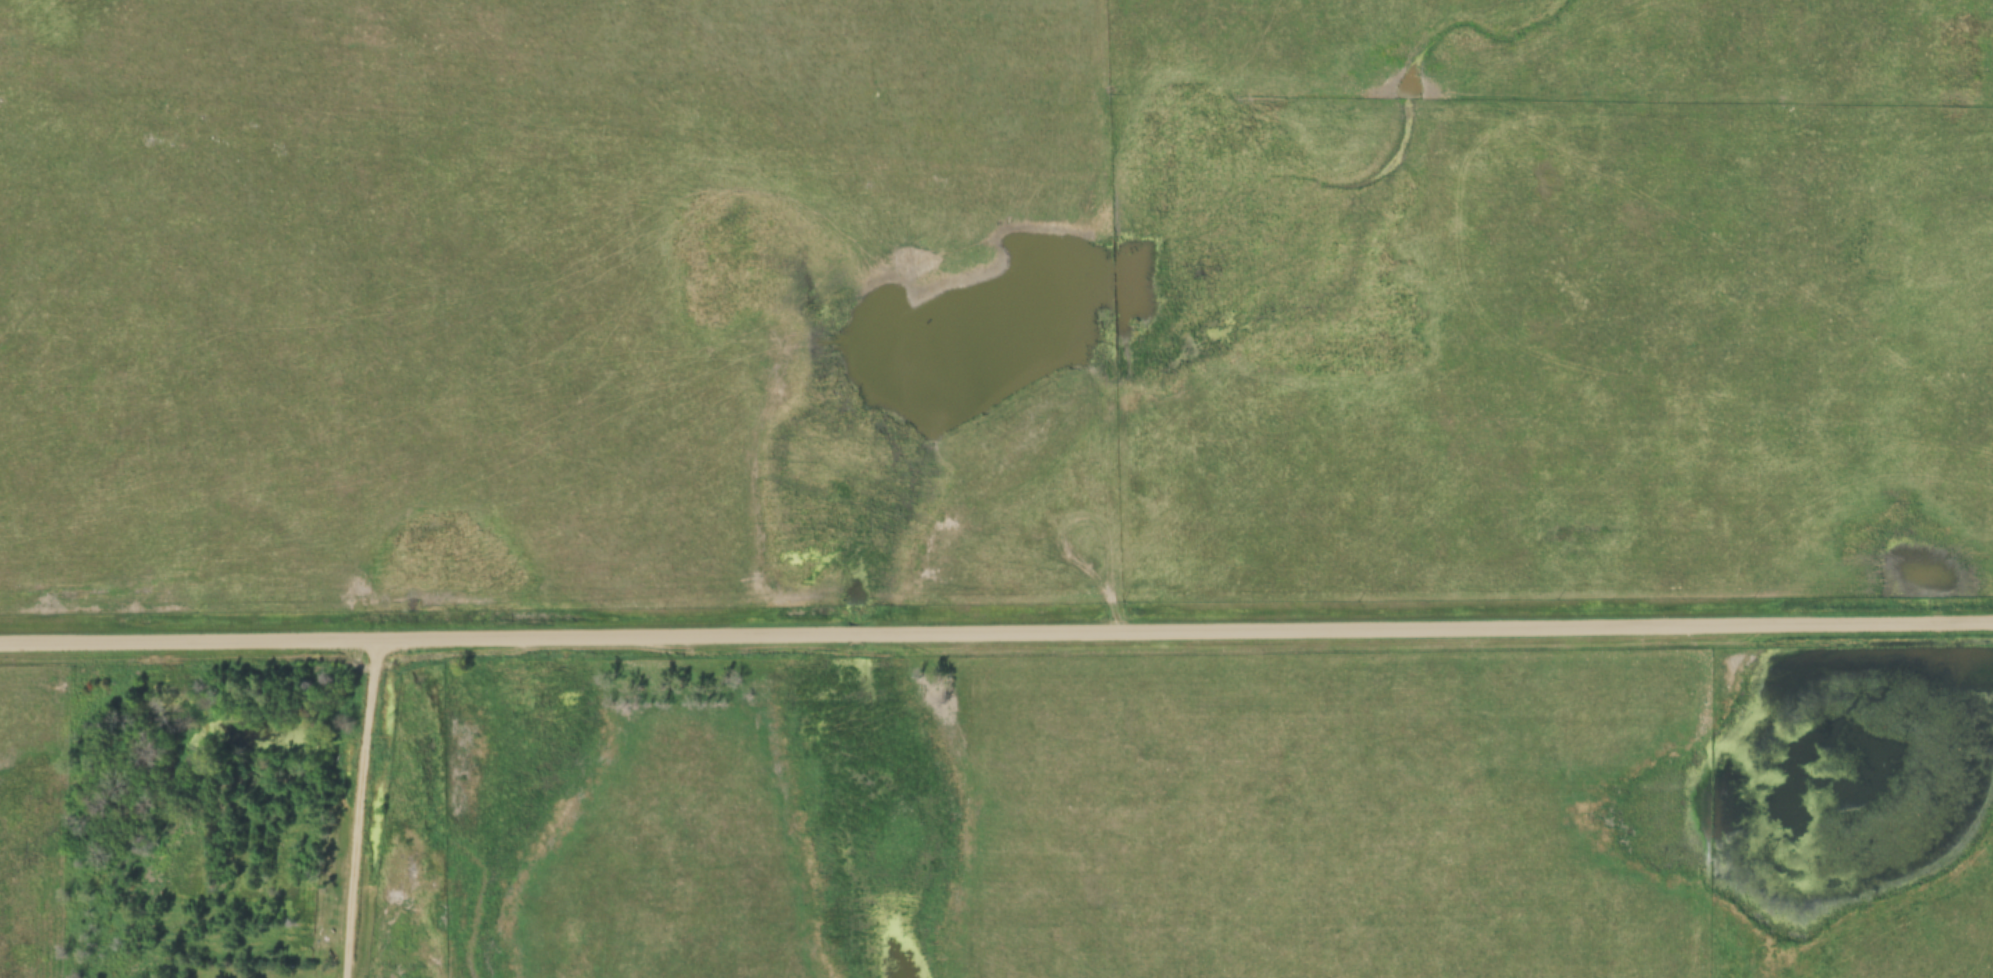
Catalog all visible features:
road: (996, 635)
road: (355, 809)

